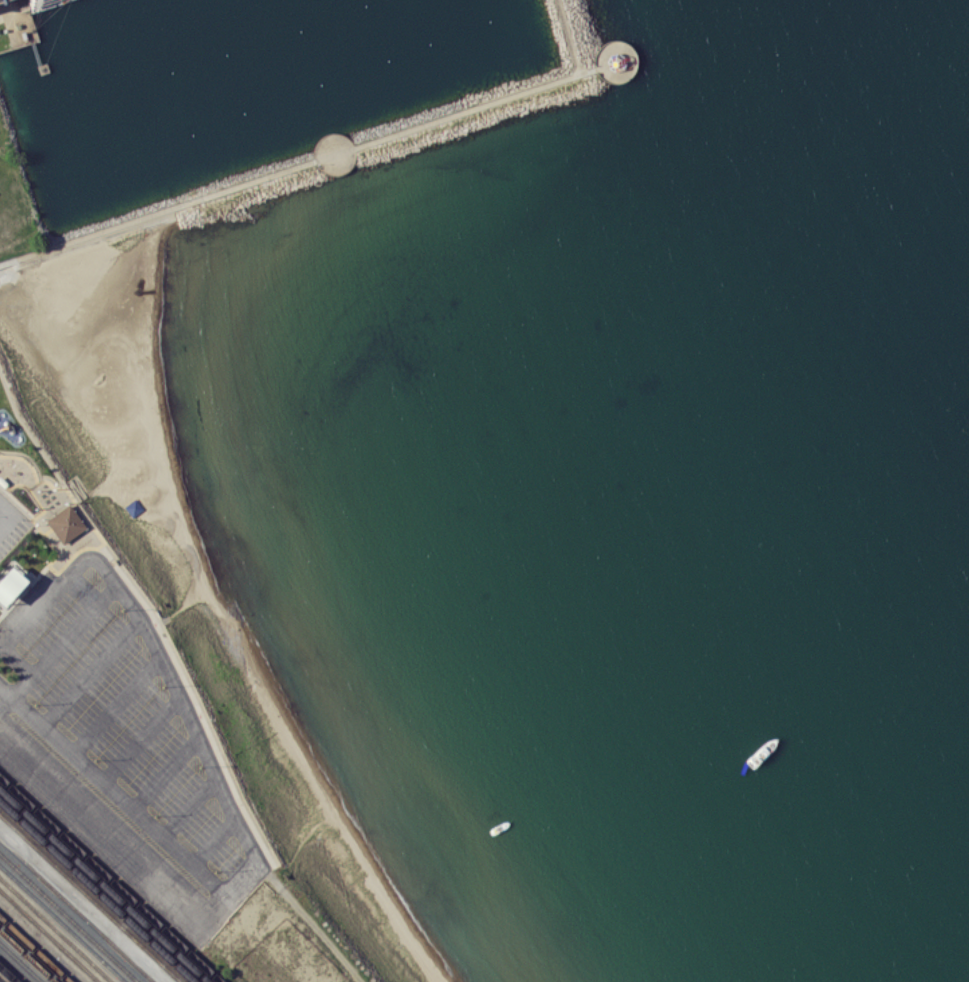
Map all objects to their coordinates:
building: (45, 4)
road: (616, 49)
road: (324, 156)
park: (167, 453)
road: (7, 509)
building: (64, 524)
road: (3, 525)
parking lot: (12, 525)
road: (39, 525)
building: (10, 587)
road: (19, 663)
road: (93, 674)
road: (15, 692)
road: (118, 707)
road: (190, 719)
road: (143, 740)
parking lot: (121, 744)
road: (166, 773)
road: (118, 793)
road: (191, 808)
road: (214, 841)
railway: (110, 880)
railway: (103, 886)
railway: (97, 892)
railway: (90, 898)
road: (84, 905)
railway: (76, 911)
railway: (69, 917)
railway: (62, 924)
railway: (56, 929)
railway: (49, 935)
railway: (35, 949)
railway: (28, 955)
railway: (21, 962)
railway: (14, 968)
railway: (8, 974)
railway: (1, 981)

